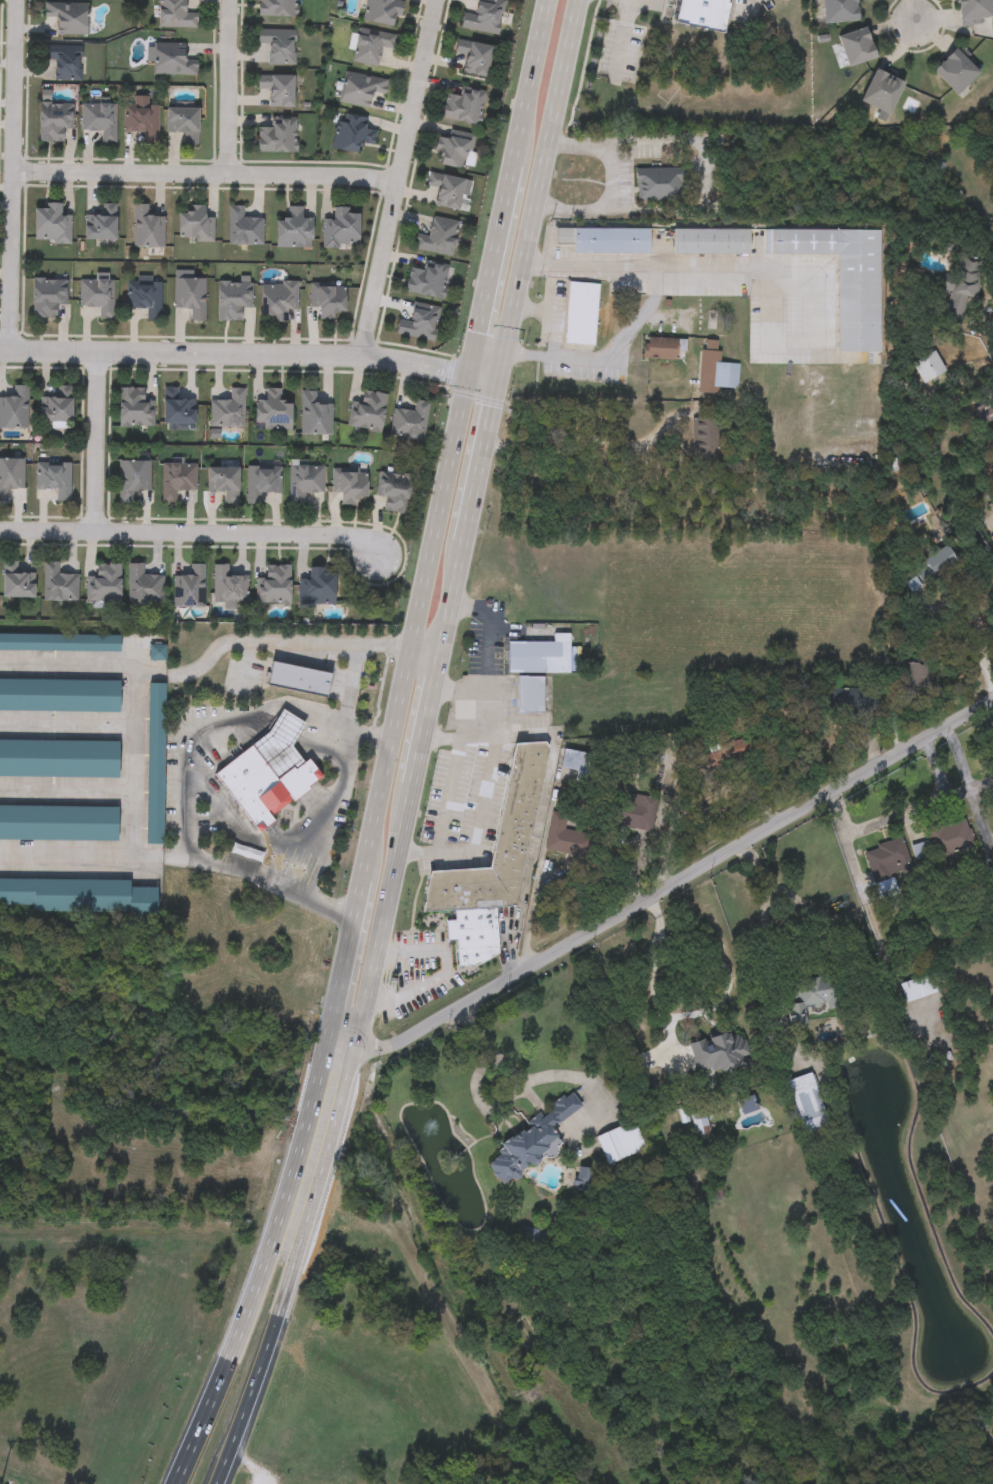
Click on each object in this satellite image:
road: (751, 5)
building: (277, 8)
building: (841, 9)
building: (975, 10)
road: (910, 11)
building: (382, 12)
building: (701, 13)
building: (175, 15)
building: (484, 17)
building: (68, 18)
road: (623, 35)
building: (858, 45)
building: (278, 46)
building: (371, 46)
building: (475, 58)
building: (173, 60)
building: (64, 62)
building: (957, 69)
road: (226, 87)
building: (278, 89)
building: (361, 89)
building: (883, 89)
building: (464, 106)
building: (142, 119)
building: (100, 120)
building: (55, 121)
building: (184, 123)
building: (353, 133)
building: (276, 136)
building: (453, 148)
road: (706, 170)
road: (204, 173)
road: (10, 175)
road: (398, 177)
building: (659, 181)
road: (616, 184)
building: (445, 190)
building: (53, 224)
building: (102, 224)
building: (196, 225)
building: (243, 227)
building: (147, 228)
building: (294, 229)
building: (341, 229)
building: (438, 237)
building: (602, 237)
building: (710, 239)
road: (706, 270)
building: (843, 276)
building: (427, 280)
building: (959, 287)
building: (48, 297)
building: (98, 297)
building: (145, 297)
building: (191, 297)
building: (233, 300)
building: (278, 300)
building: (328, 300)
building: (581, 311)
road: (547, 316)
building: (419, 323)
building: (662, 346)
road: (248, 353)
road: (607, 358)
building: (928, 365)
building: (715, 369)
traffic signals: (466, 374)
traffic signals: (494, 379)
building: (58, 407)
building: (136, 408)
building: (178, 409)
building: (15, 410)
building: (229, 411)
building: (273, 412)
building: (368, 412)
building: (314, 416)
building: (409, 421)
building: (704, 436)
road: (591, 438)
road: (93, 441)
building: (11, 477)
building: (55, 480)
building: (133, 480)
building: (177, 481)
building: (304, 482)
building: (224, 483)
building: (261, 483)
building: (349, 486)
building: (395, 492)
road: (435, 522)
road: (464, 523)
road: (191, 532)
building: (935, 563)
building: (18, 582)
building: (58, 584)
building: (105, 584)
building: (143, 586)
building: (274, 586)
building: (228, 588)
building: (318, 588)
building: (189, 589)
road: (960, 605)
road: (490, 621)
road: (304, 642)
building: (60, 643)
building: (157, 652)
building: (540, 654)
road: (91, 665)
road: (245, 667)
building: (299, 679)
road: (346, 688)
building: (530, 694)
building: (60, 696)
road: (477, 700)
road: (458, 740)
building: (731, 751)
building: (59, 760)
road: (136, 761)
building: (579, 763)
building: (156, 764)
building: (267, 774)
road: (186, 779)
road: (981, 785)
road: (970, 789)
road: (957, 794)
building: (635, 810)
road: (905, 813)
road: (328, 821)
building: (58, 825)
road: (537, 830)
road: (478, 831)
building: (564, 835)
building: (943, 840)
building: (497, 842)
road: (91, 855)
building: (887, 857)
road: (662, 888)
building: (81, 897)
building: (474, 935)
road: (821, 939)
road: (443, 976)
building: (919, 985)
building: (810, 993)
road: (722, 1000)
building: (728, 1046)
building: (740, 1080)
building: (803, 1096)
building: (700, 1126)
building: (620, 1141)
building: (529, 1142)
road: (261, 1268)
road: (294, 1269)
building: (992, 1442)
building: (337, 1482)

